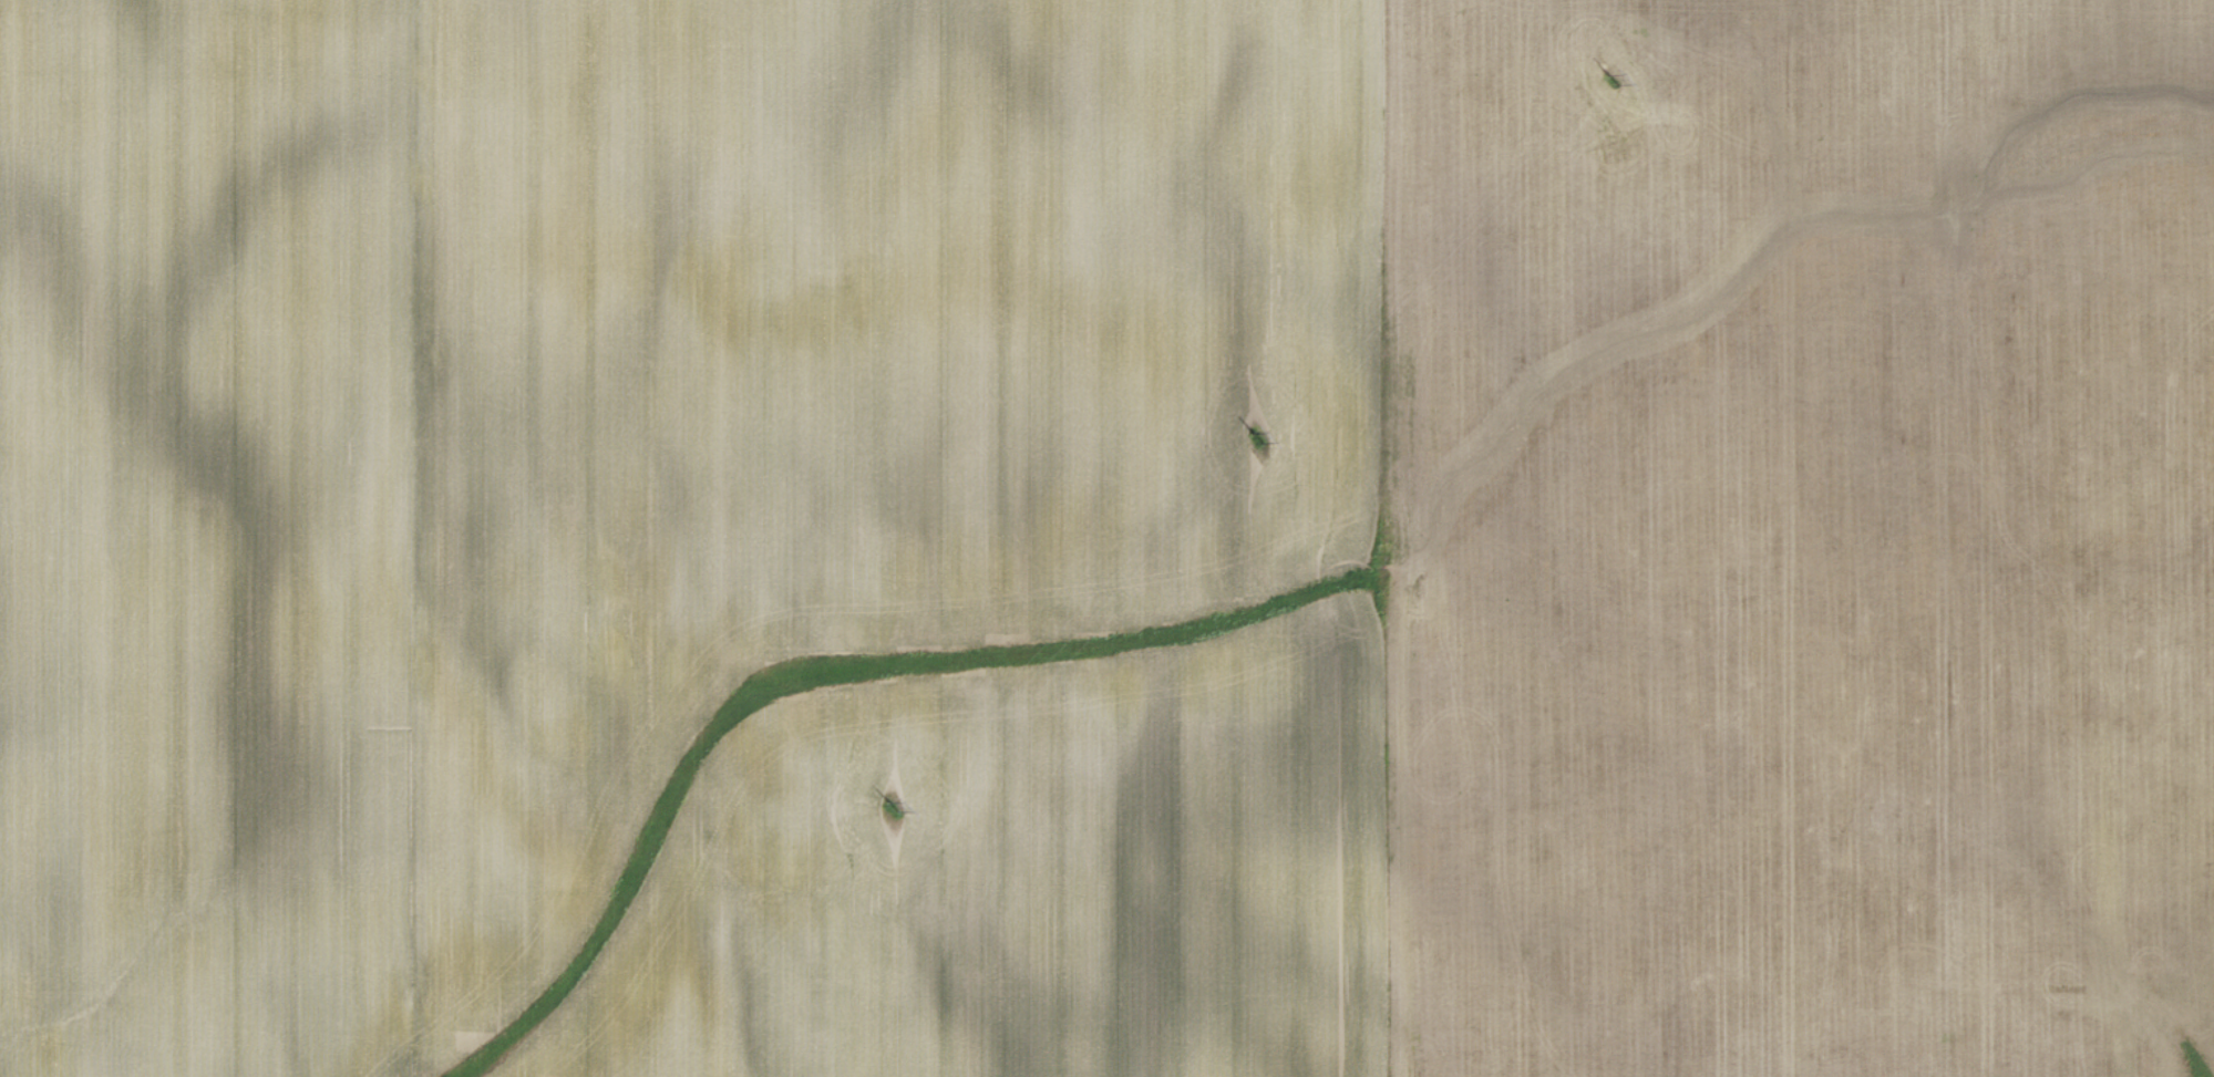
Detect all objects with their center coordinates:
power tower: (1611, 80)
power tower: (1256, 437)
power tower: (888, 808)

